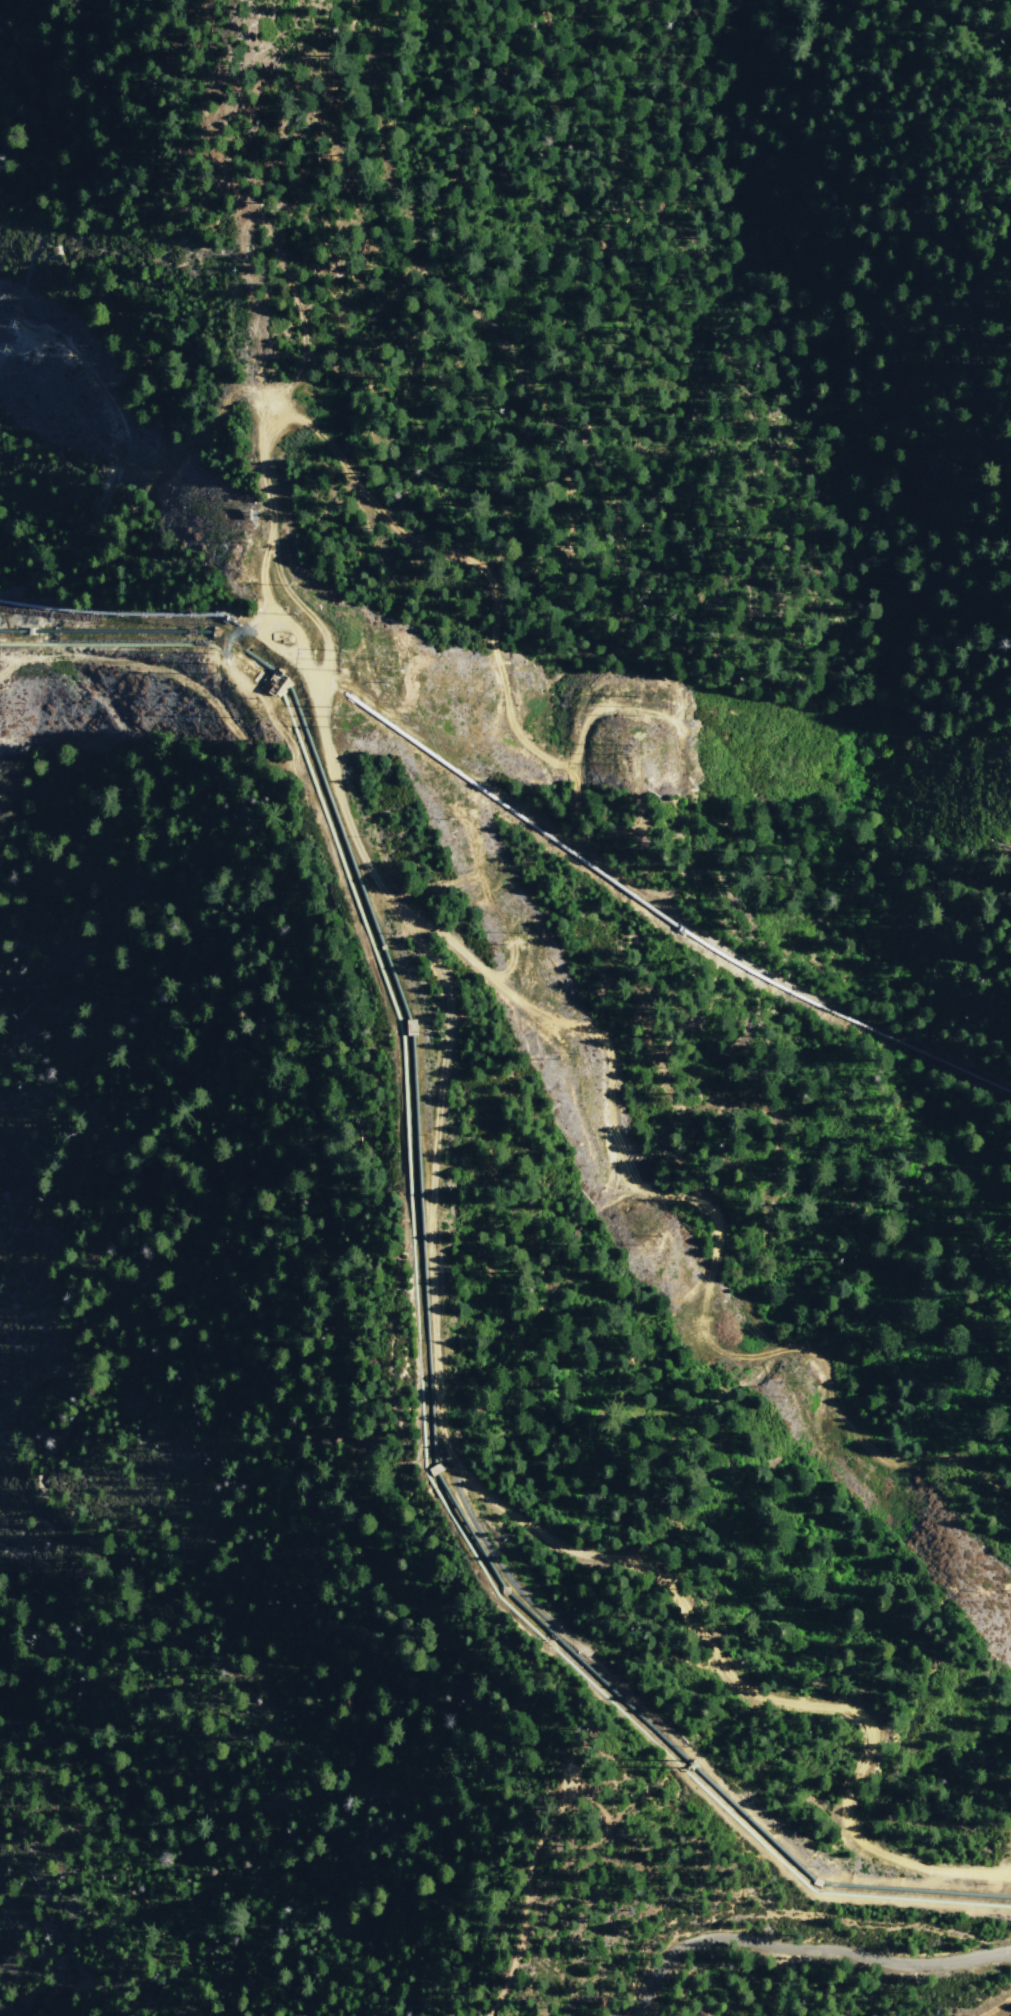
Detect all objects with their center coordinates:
power tower: (338, 659)
power tower: (213, 661)
power tower: (254, 708)
power tower: (633, 709)
power tower: (329, 716)
power tower: (622, 753)
road: (600, 1782)
road: (803, 1949)
road: (514, 1961)
road: (996, 2008)

